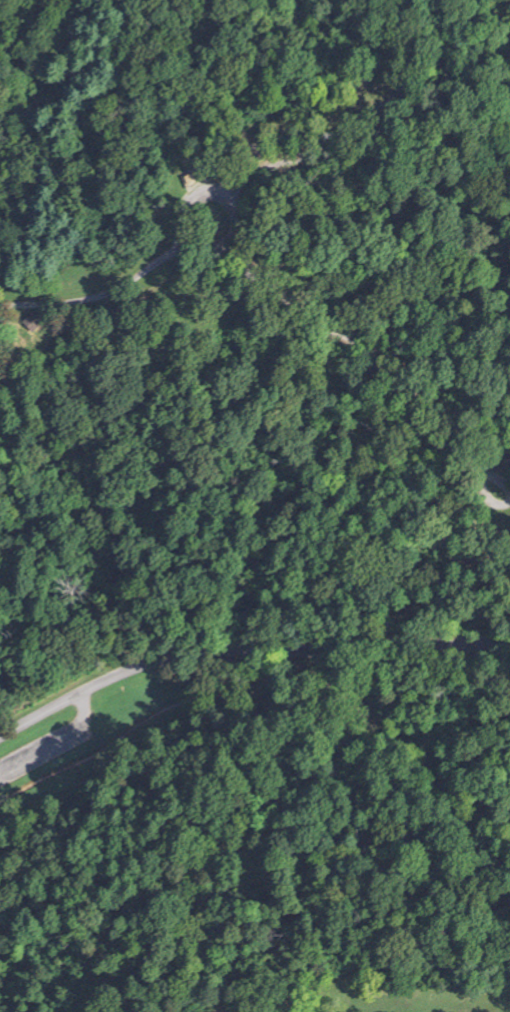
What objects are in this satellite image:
road: (475, 101)
road: (363, 117)
road: (188, 233)
road: (103, 292)
building: (32, 323)
road: (408, 372)
road: (245, 651)
road: (58, 743)
parking lot: (49, 746)

